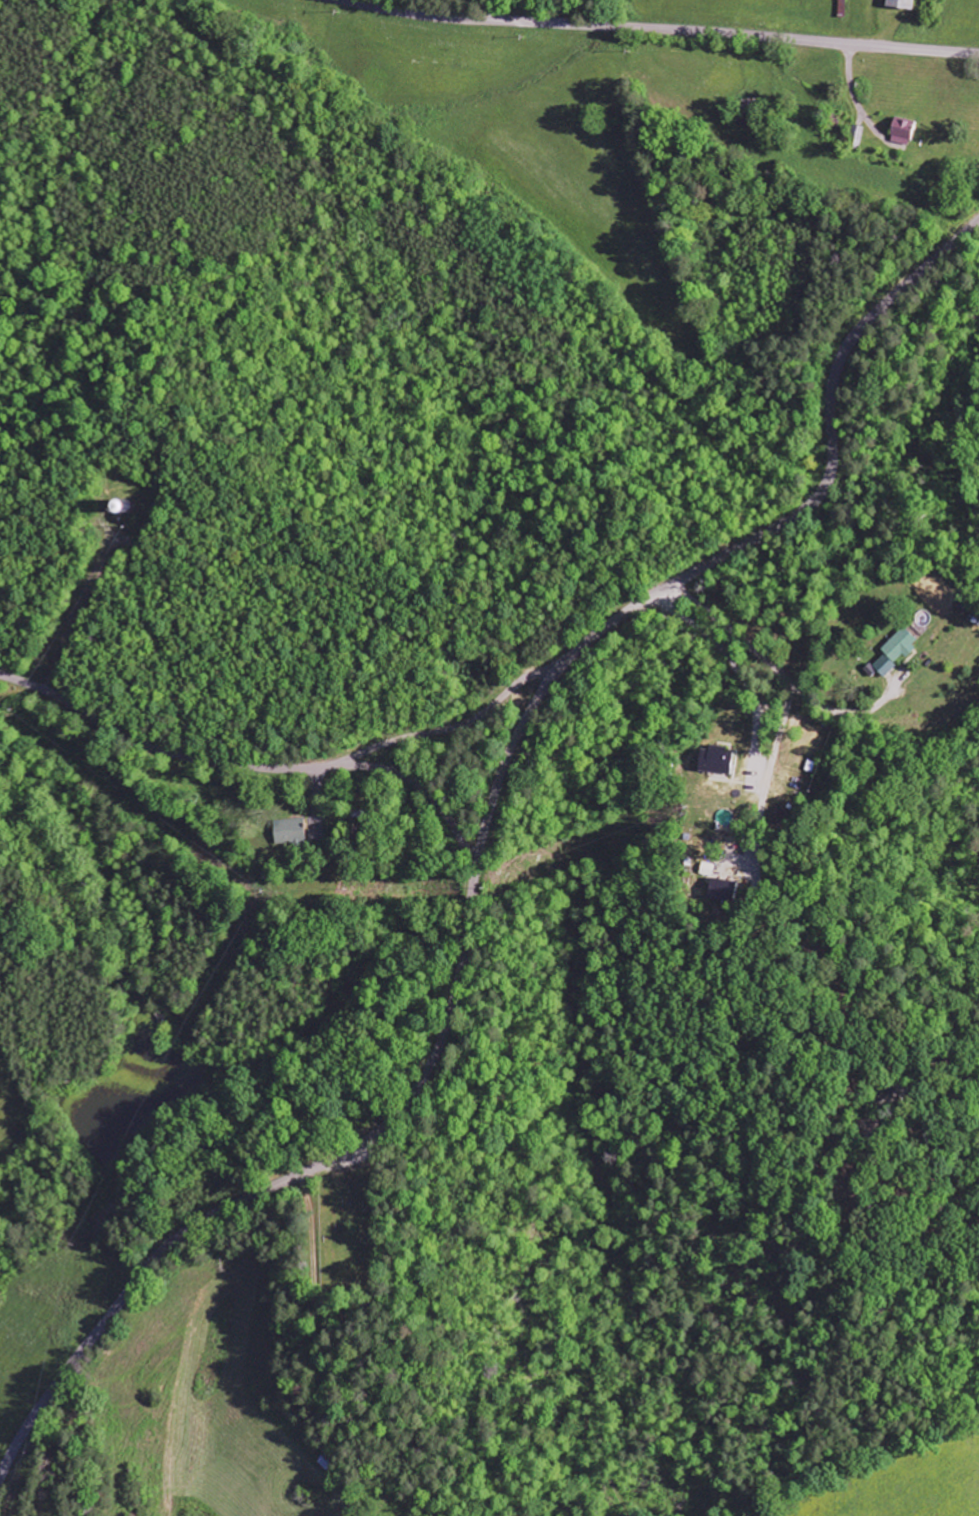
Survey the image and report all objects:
building: (900, 3)
road: (658, 30)
building: (901, 131)
road: (825, 479)
building: (900, 645)
building: (881, 667)
road: (741, 668)
road: (783, 674)
building: (715, 761)
road: (285, 767)
building: (290, 832)
building: (722, 890)
road: (373, 1133)

